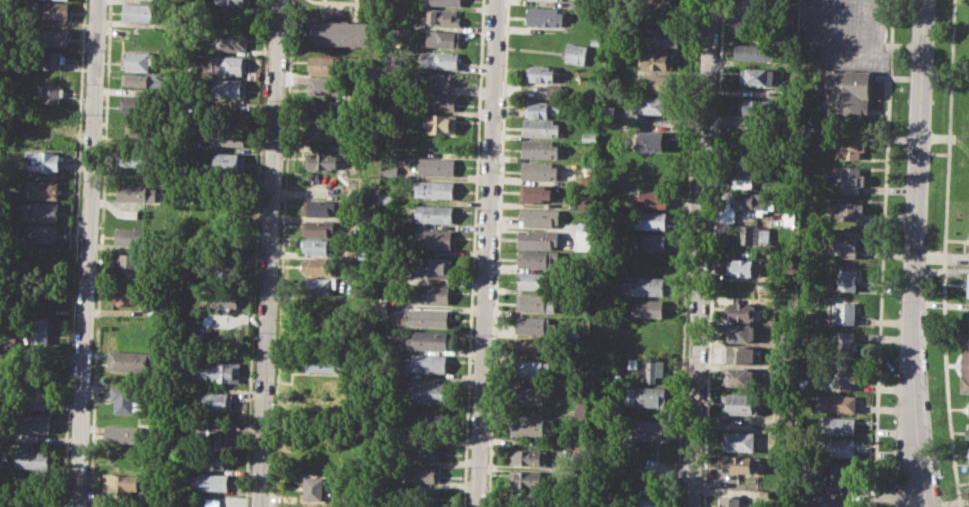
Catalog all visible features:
building: (551, 0)
building: (656, 2)
building: (233, 3)
building: (446, 3)
building: (754, 6)
building: (53, 11)
building: (139, 11)
building: (543, 16)
building: (442, 18)
building: (753, 28)
building: (339, 33)
parking lot: (842, 34)
building: (53, 36)
building: (661, 36)
building: (443, 39)
building: (231, 41)
building: (595, 41)
building: (755, 51)
building: (574, 53)
building: (53, 59)
building: (138, 59)
building: (439, 60)
building: (656, 60)
building: (607, 63)
building: (232, 64)
building: (325, 65)
street lamp: (907, 72)
building: (539, 74)
building: (758, 76)
building: (143, 79)
building: (656, 82)
building: (324, 85)
building: (231, 87)
building: (52, 92)
building: (847, 93)
building: (439, 101)
building: (137, 104)
building: (655, 104)
building: (540, 108)
building: (760, 108)
building: (324, 109)
building: (440, 122)
building: (41, 126)
building: (139, 126)
building: (540, 127)
building: (323, 130)
building: (589, 136)
building: (227, 137)
building: (653, 140)
building: (849, 145)
building: (540, 149)
street lamp: (905, 149)
building: (138, 157)
building: (43, 160)
building: (230, 161)
building: (322, 161)
building: (433, 166)
building: (390, 170)
building: (752, 170)
building: (540, 171)
building: (849, 178)
building: (355, 183)
building: (42, 189)
building: (434, 189)
building: (135, 191)
building: (535, 193)
building: (386, 198)
building: (653, 198)
building: (749, 200)
building: (322, 207)
building: (39, 210)
building: (847, 210)
building: (129, 213)
building: (434, 213)
building: (538, 216)
building: (791, 216)
building: (651, 220)
building: (319, 227)
street lamp: (901, 230)
building: (40, 233)
building: (753, 234)
building: (134, 236)
building: (584, 236)
building: (968, 237)
building: (537, 239)
building: (431, 240)
building: (652, 241)
building: (844, 242)
building: (320, 246)
building: (366, 251)
road: (87, 253)
road: (270, 253)
road: (486, 253)
road: (497, 253)
road: (701, 253)
road: (712, 253)
road: (881, 253)
road: (916, 253)
road: (943, 253)
building: (535, 258)
building: (133, 262)
building: (320, 265)
building: (433, 267)
building: (746, 267)
building: (847, 279)
building: (536, 280)
building: (966, 284)
building: (321, 286)
building: (645, 286)
building: (127, 293)
building: (431, 294)
building: (223, 298)
street lamp: (898, 301)
building: (535, 302)
building: (384, 306)
building: (647, 308)
building: (743, 312)
building: (846, 312)
building: (968, 317)
building: (427, 318)
building: (532, 324)
building: (37, 329)
building: (739, 333)
building: (429, 340)
building: (846, 345)
building: (532, 346)
building: (739, 355)
building: (131, 359)
building: (321, 362)
building: (427, 362)
building: (965, 365)
building: (649, 368)
building: (531, 369)
building: (218, 372)
street lamp: (895, 375)
building: (738, 376)
building: (843, 376)
building: (427, 392)
building: (528, 393)
building: (646, 397)
building: (32, 398)
building: (125, 399)
building: (217, 401)
building: (740, 402)
building: (839, 402)
building: (581, 408)
building: (968, 408)
building: (428, 421)
building: (34, 422)
building: (528, 425)
building: (838, 425)
building: (648, 429)
building: (125, 434)
building: (966, 434)
building: (216, 438)
building: (738, 441)
street lamp: (893, 444)
building: (837, 447)
building: (426, 451)
building: (968, 455)
building: (527, 456)
building: (33, 459)
building: (217, 461)
building: (741, 463)
building: (421, 473)
building: (836, 476)
road: (906, 478)
building: (524, 479)
building: (121, 482)
building: (210, 482)
building: (316, 485)
building: (422, 495)
building: (812, 498)
building: (523, 499)
building: (646, 501)
building: (729, 501)
building: (212, 502)
building: (838, 503)
building: (300, 506)

